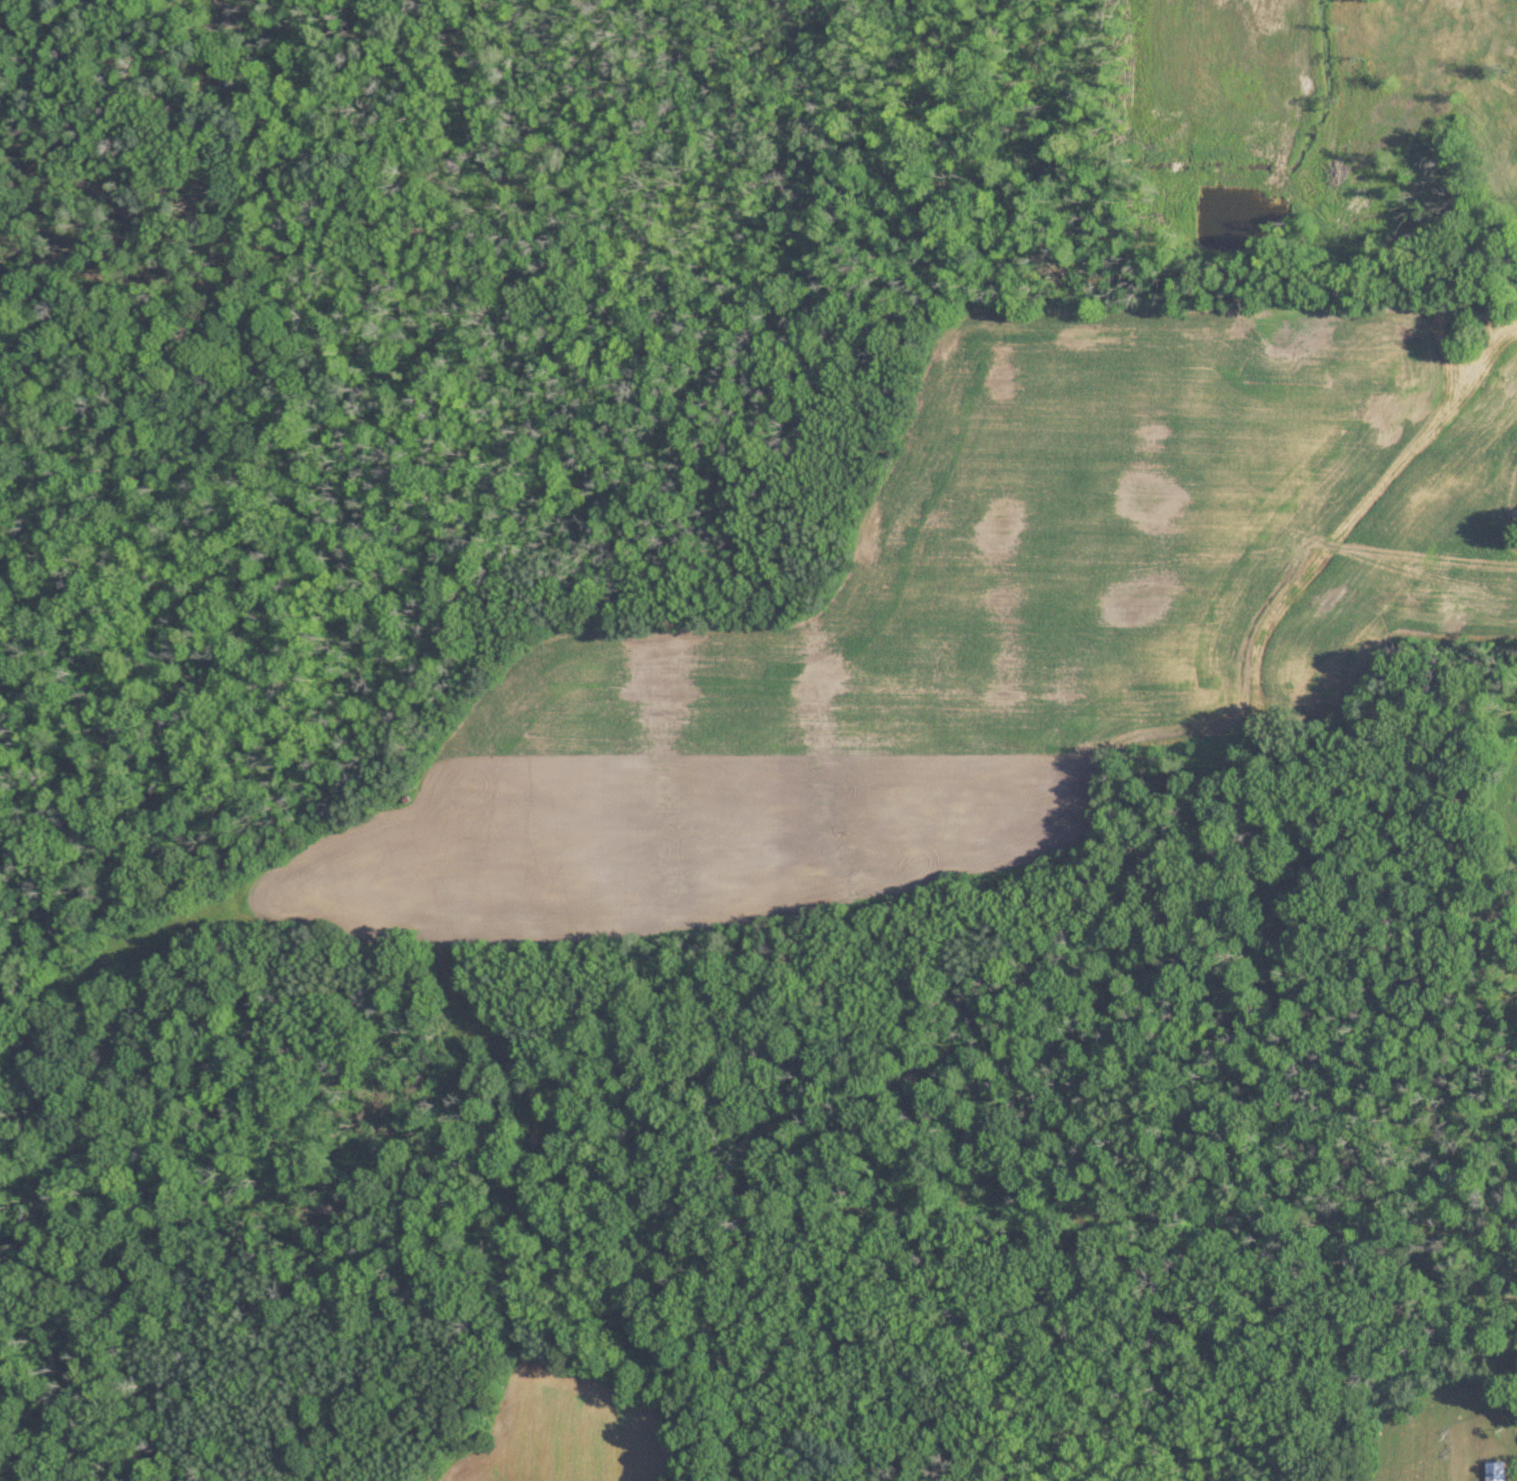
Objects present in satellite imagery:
building: (1498, 1471)

